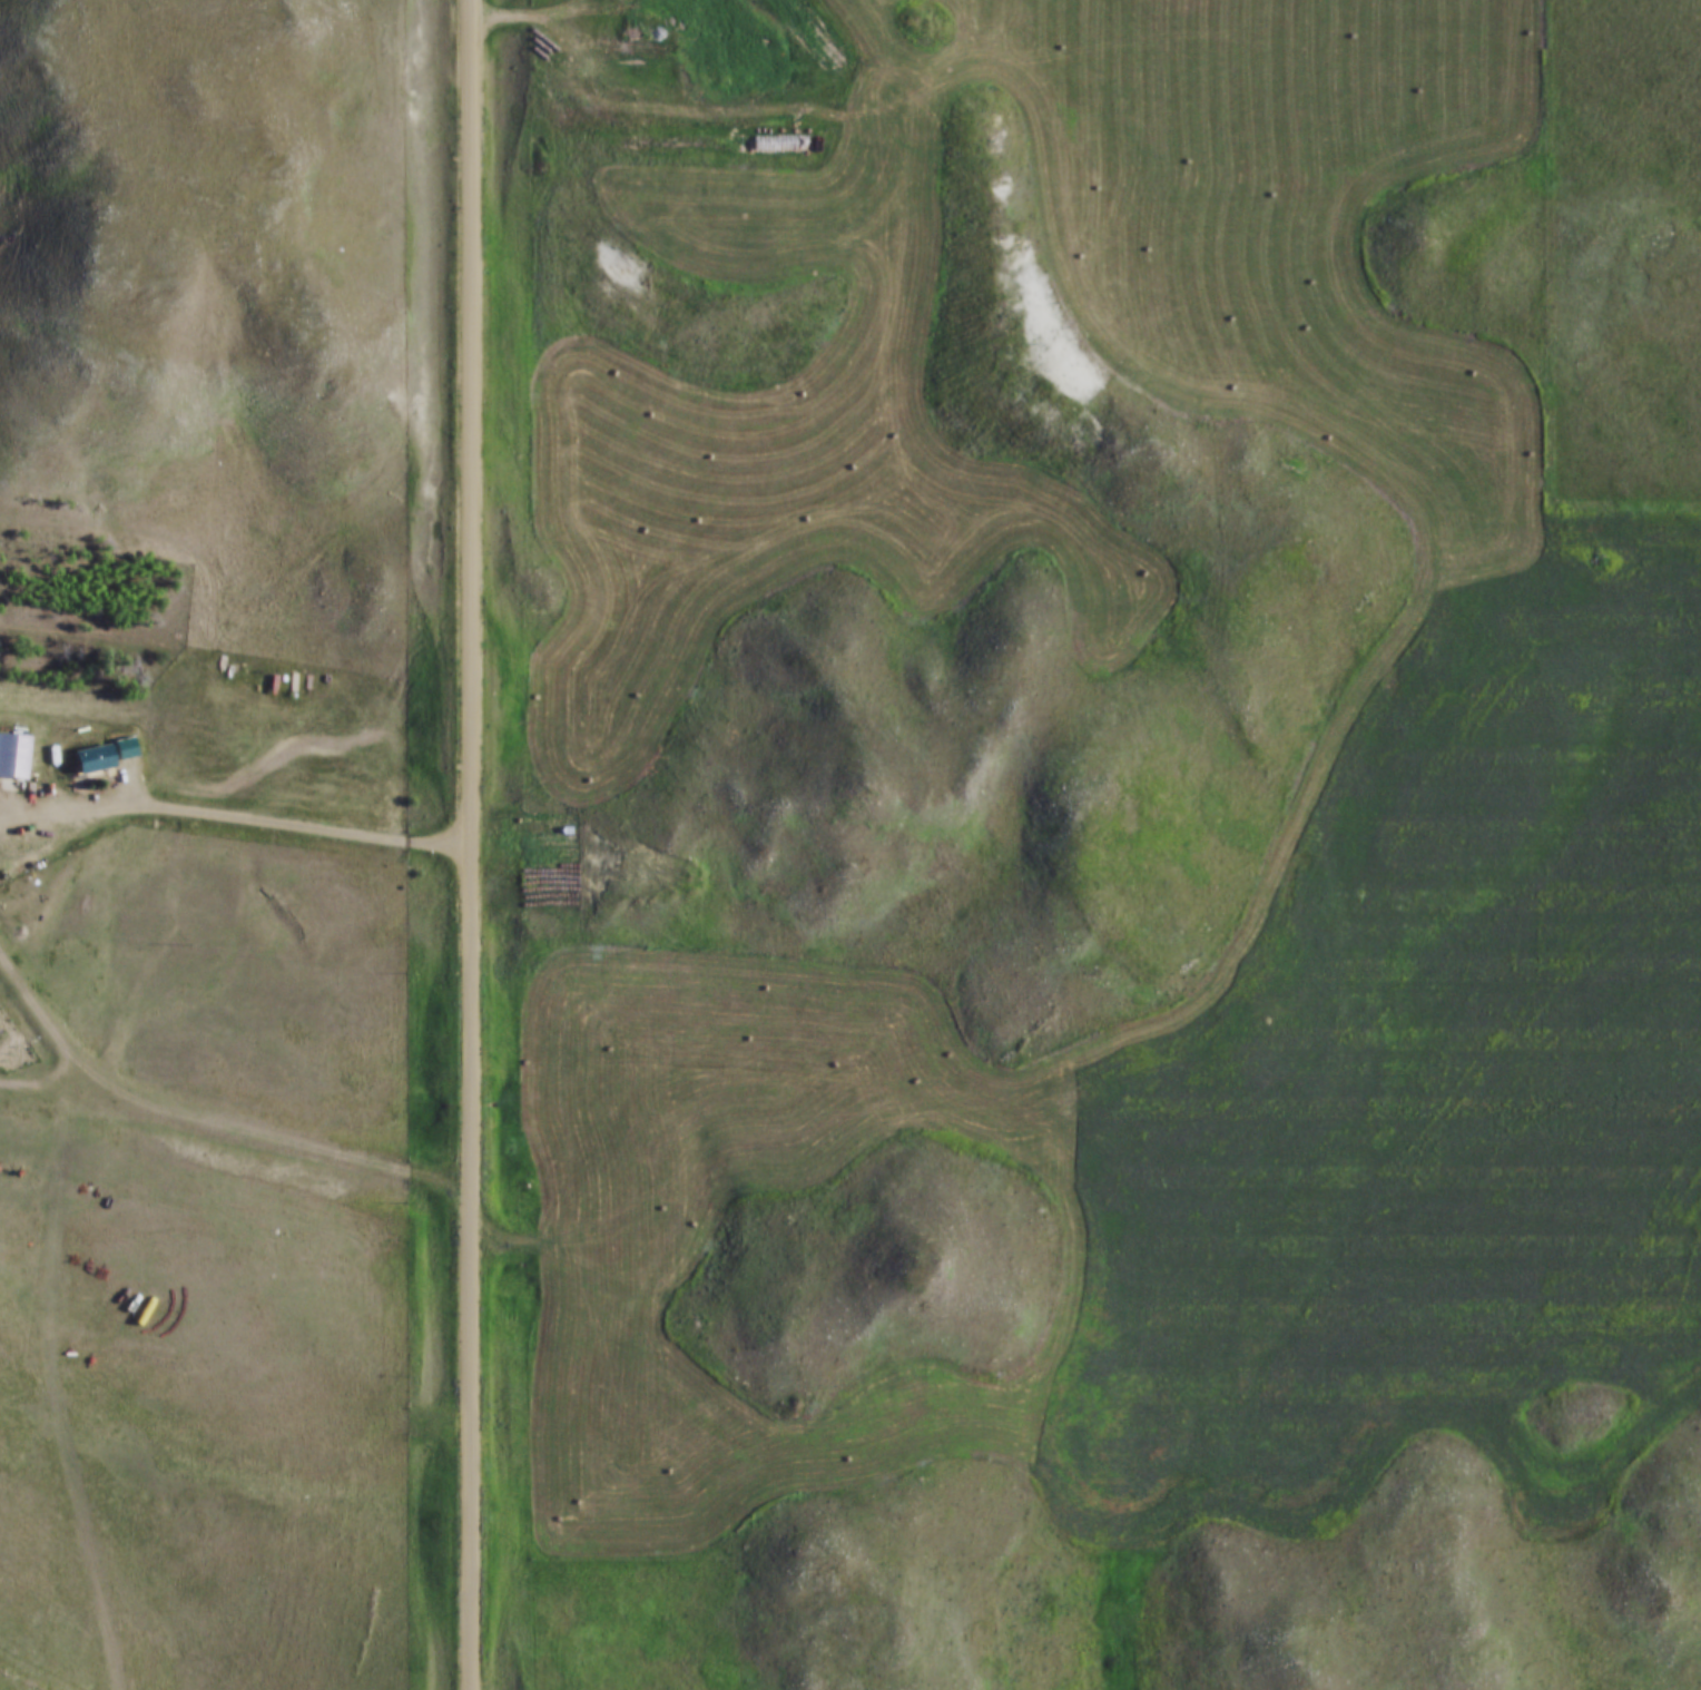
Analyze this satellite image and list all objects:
building: (13, 754)
building: (91, 756)
road: (234, 815)
road: (472, 844)
road: (209, 1123)
road: (208, 1300)

